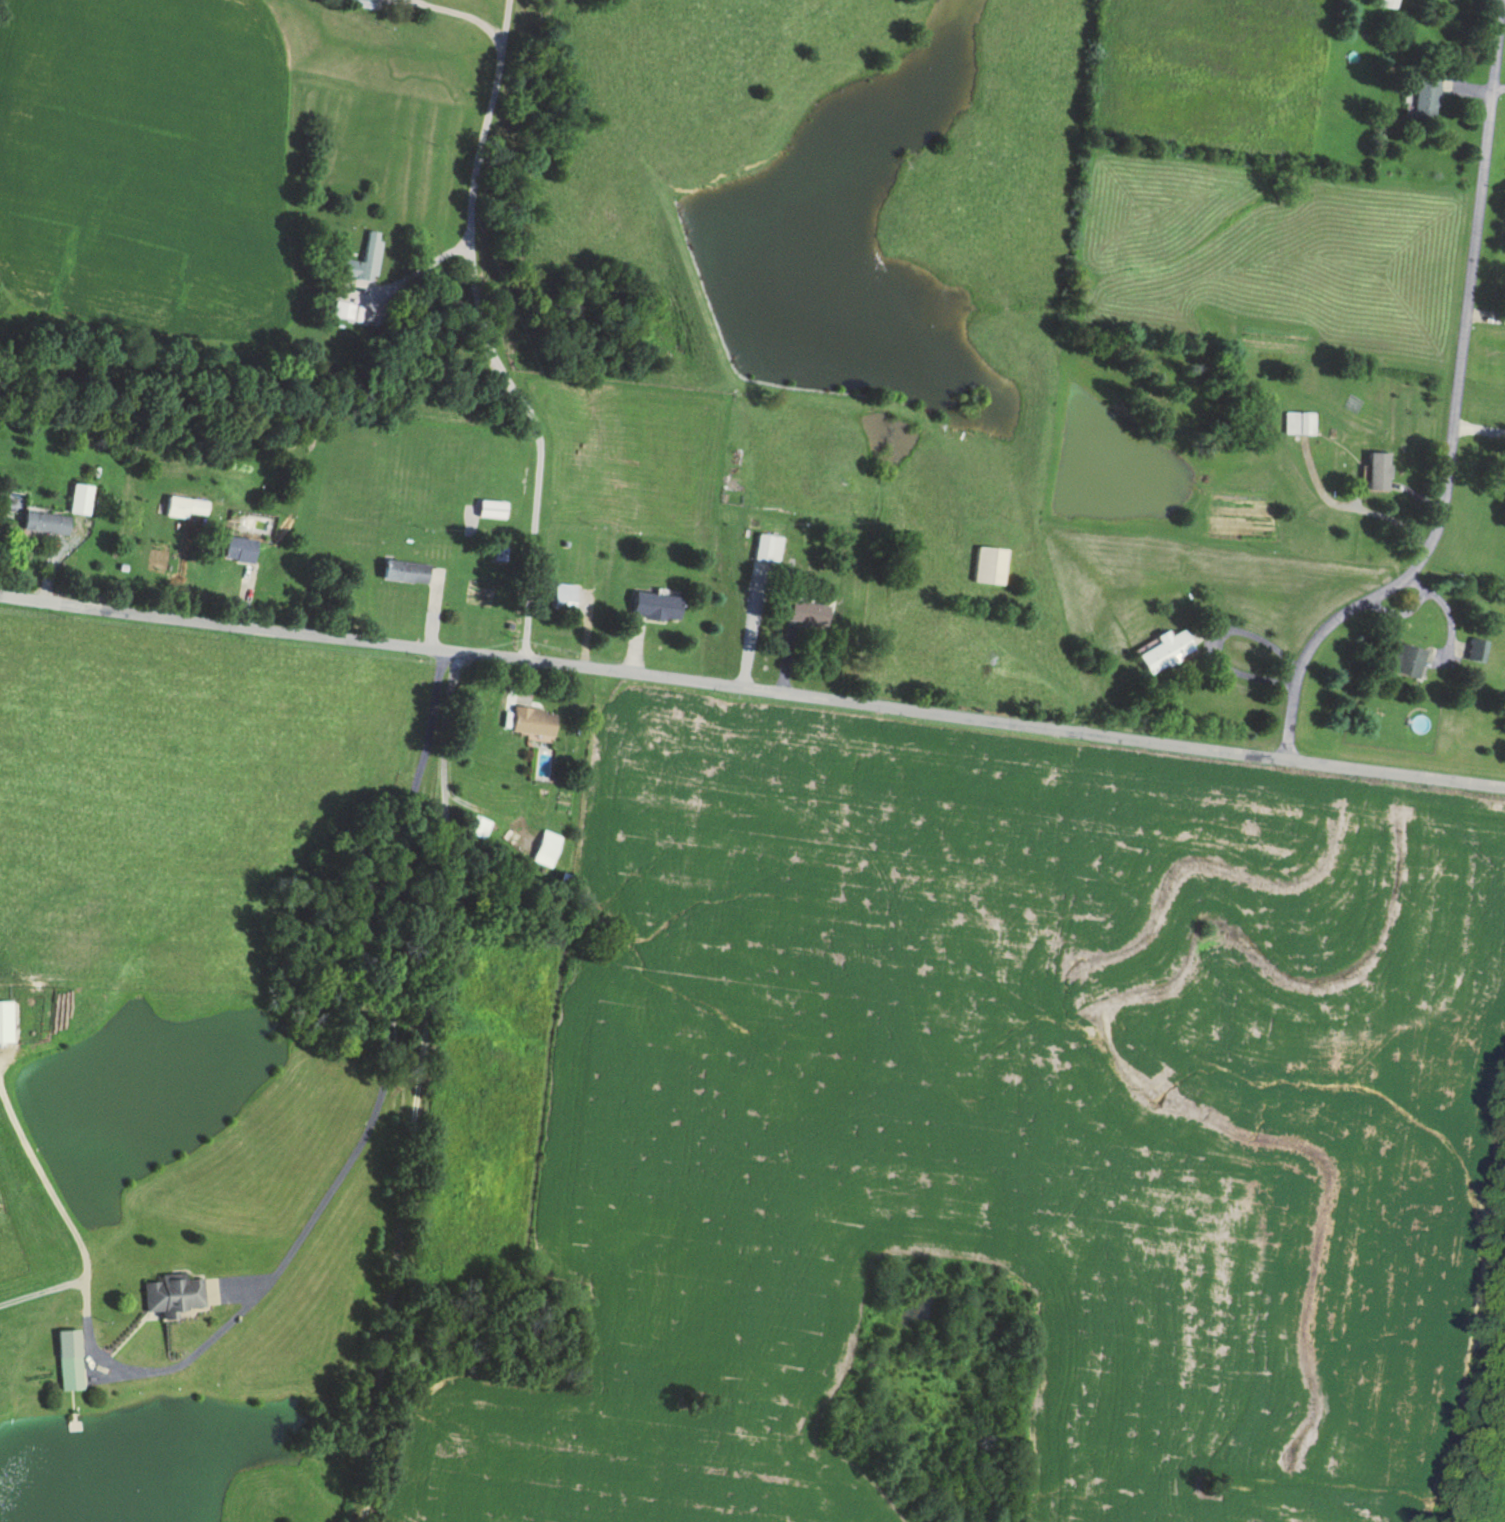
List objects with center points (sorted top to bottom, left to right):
building: (374, 0)
building: (1383, 3)
building: (1418, 94)
building: (367, 257)
building: (344, 308)
building: (1297, 421)
road: (1458, 429)
building: (1371, 470)
building: (1503, 484)
building: (81, 497)
building: (185, 505)
building: (496, 507)
building: (47, 521)
building: (241, 546)
building: (769, 546)
building: (985, 564)
building: (408, 569)
building: (566, 595)
building: (659, 604)
building: (811, 611)
building: (1471, 649)
building: (1161, 650)
building: (1400, 659)
building: (536, 721)
road: (751, 728)
building: (478, 825)
building: (547, 848)
building: (7, 1021)
road: (428, 1109)
building: (177, 1294)
building: (72, 1358)

